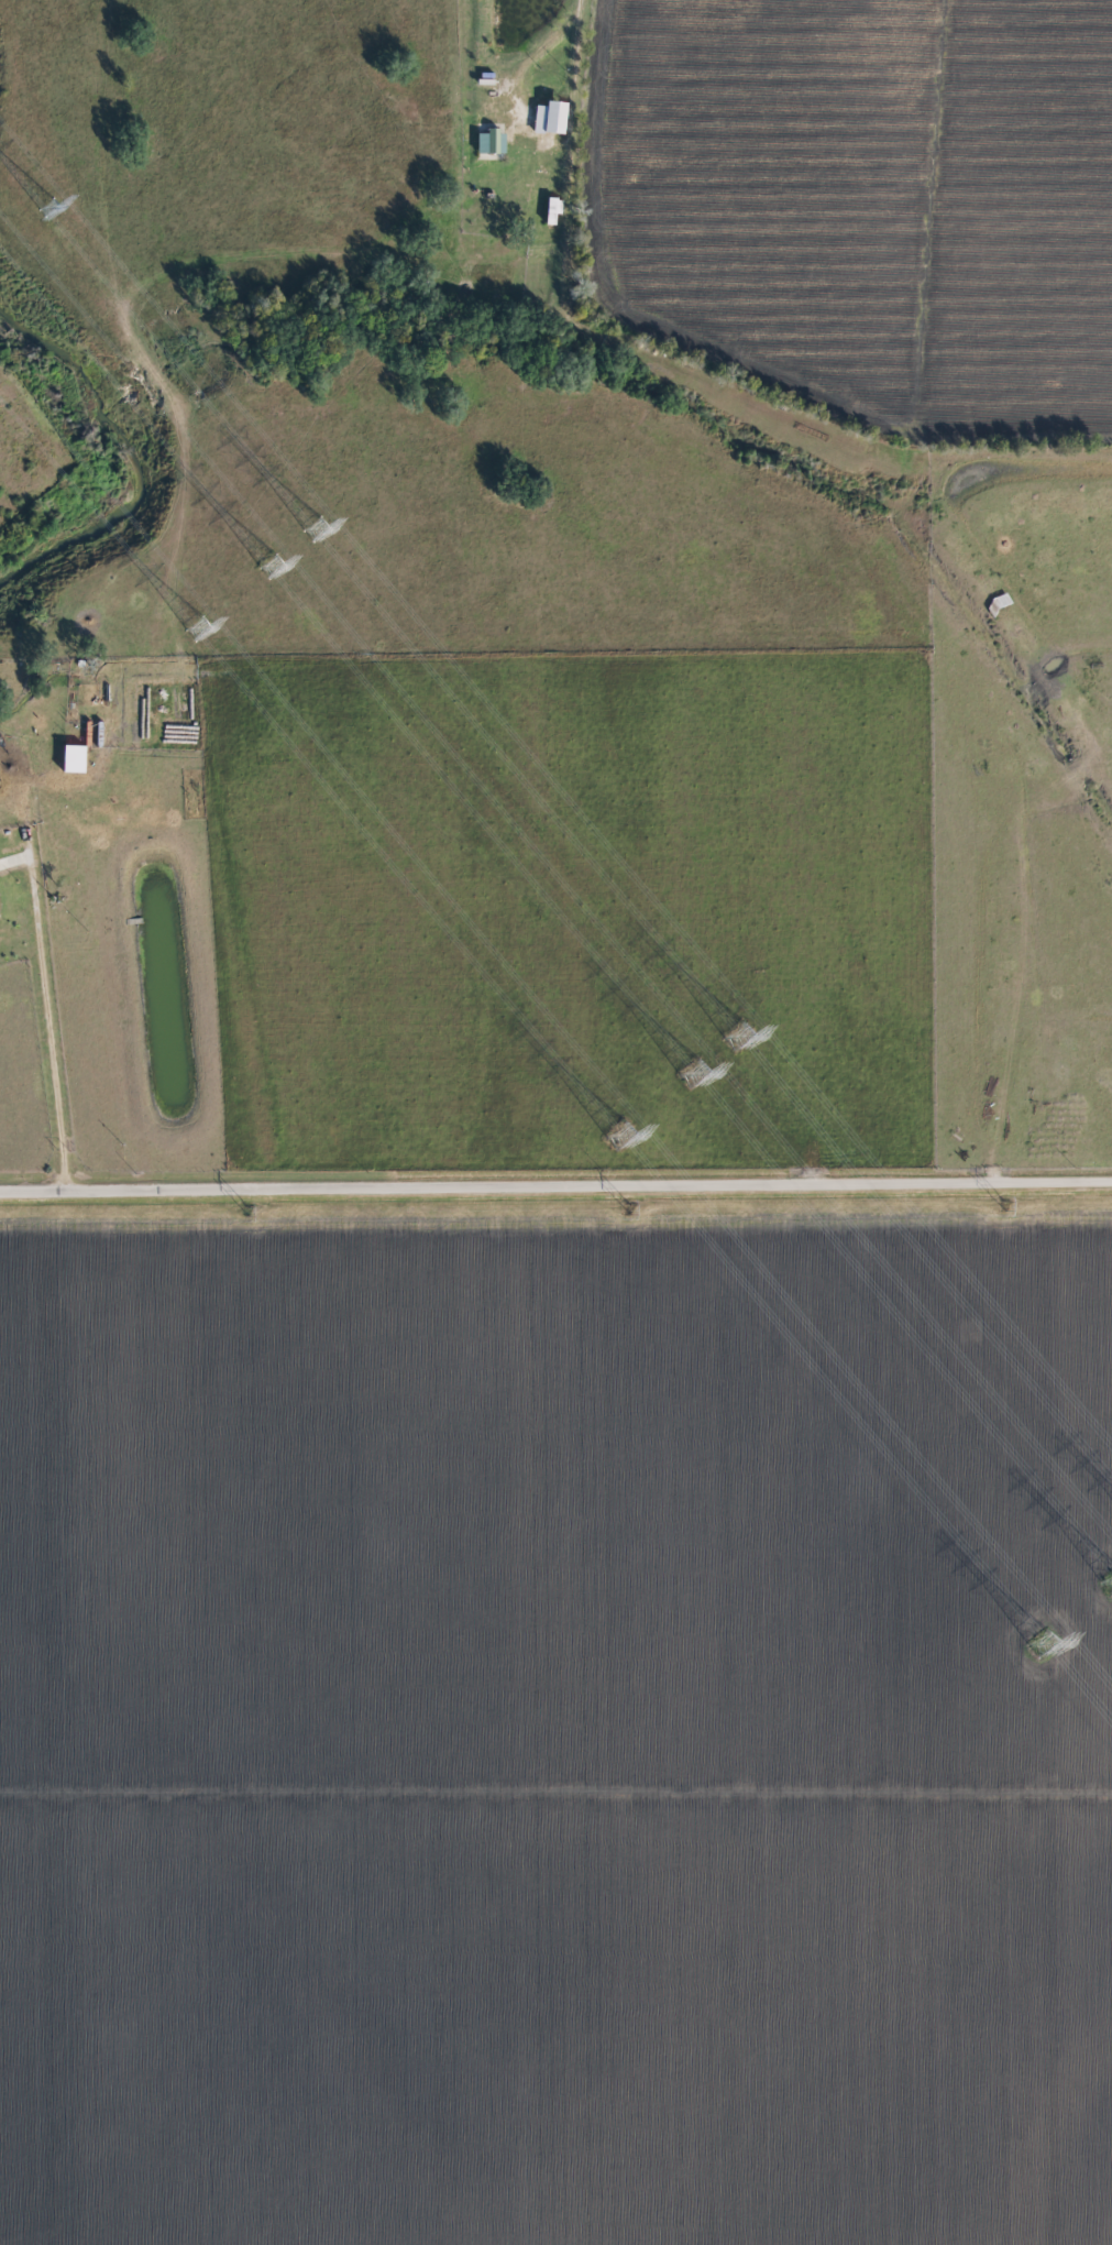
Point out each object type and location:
building: (548, 119)
building: (489, 143)
building: (551, 211)
river: (106, 451)
power tower: (315, 530)
power tower: (273, 567)
power tower: (197, 631)
building: (71, 759)
power tower: (737, 1038)
power tower: (692, 1076)
power tower: (618, 1136)
road: (555, 1191)
power tower: (1002, 1208)
power tower: (628, 1211)
power tower: (247, 1214)
power tower: (1039, 1644)

